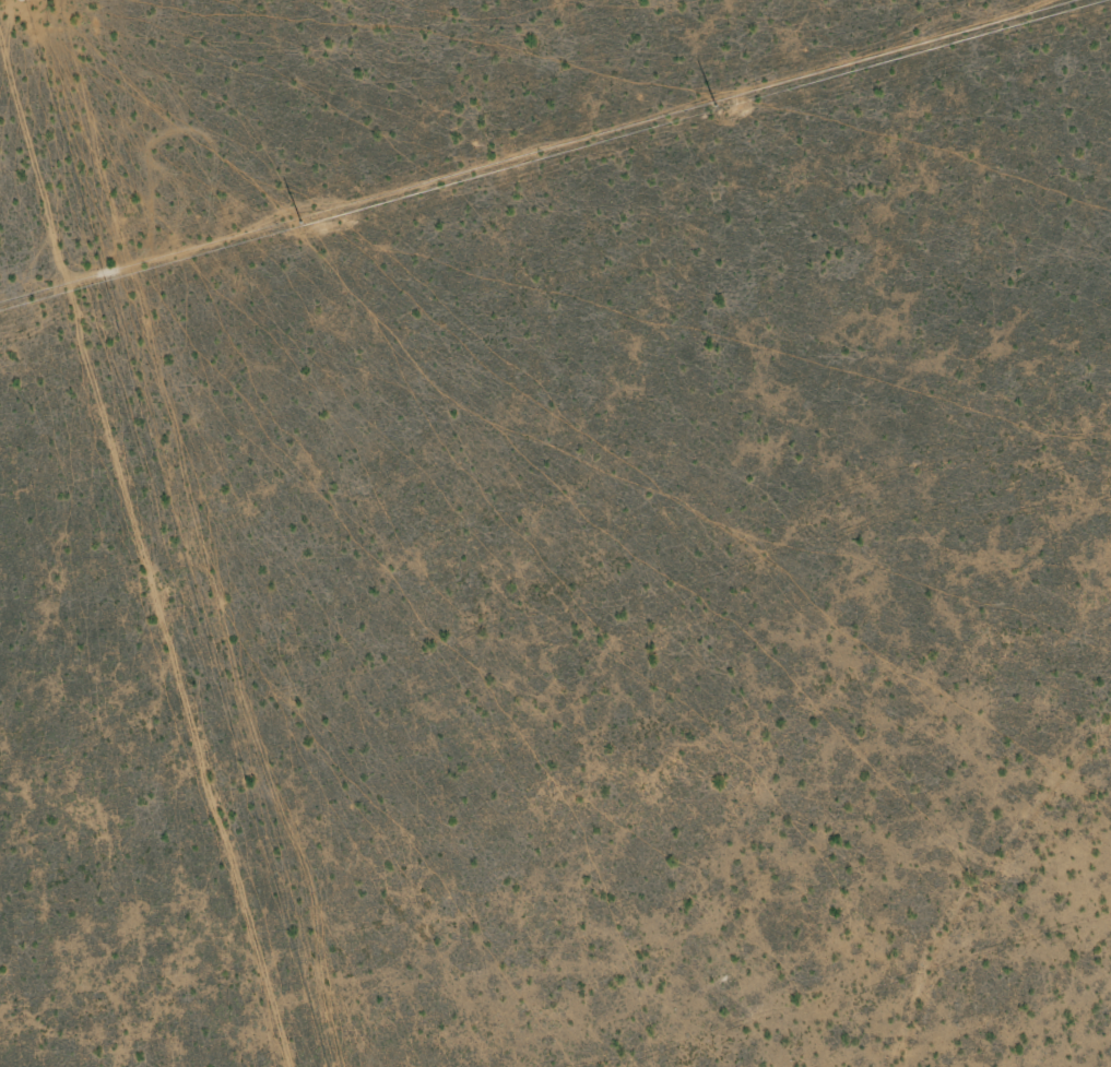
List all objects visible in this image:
power tower: (706, 102)
power tower: (293, 218)

